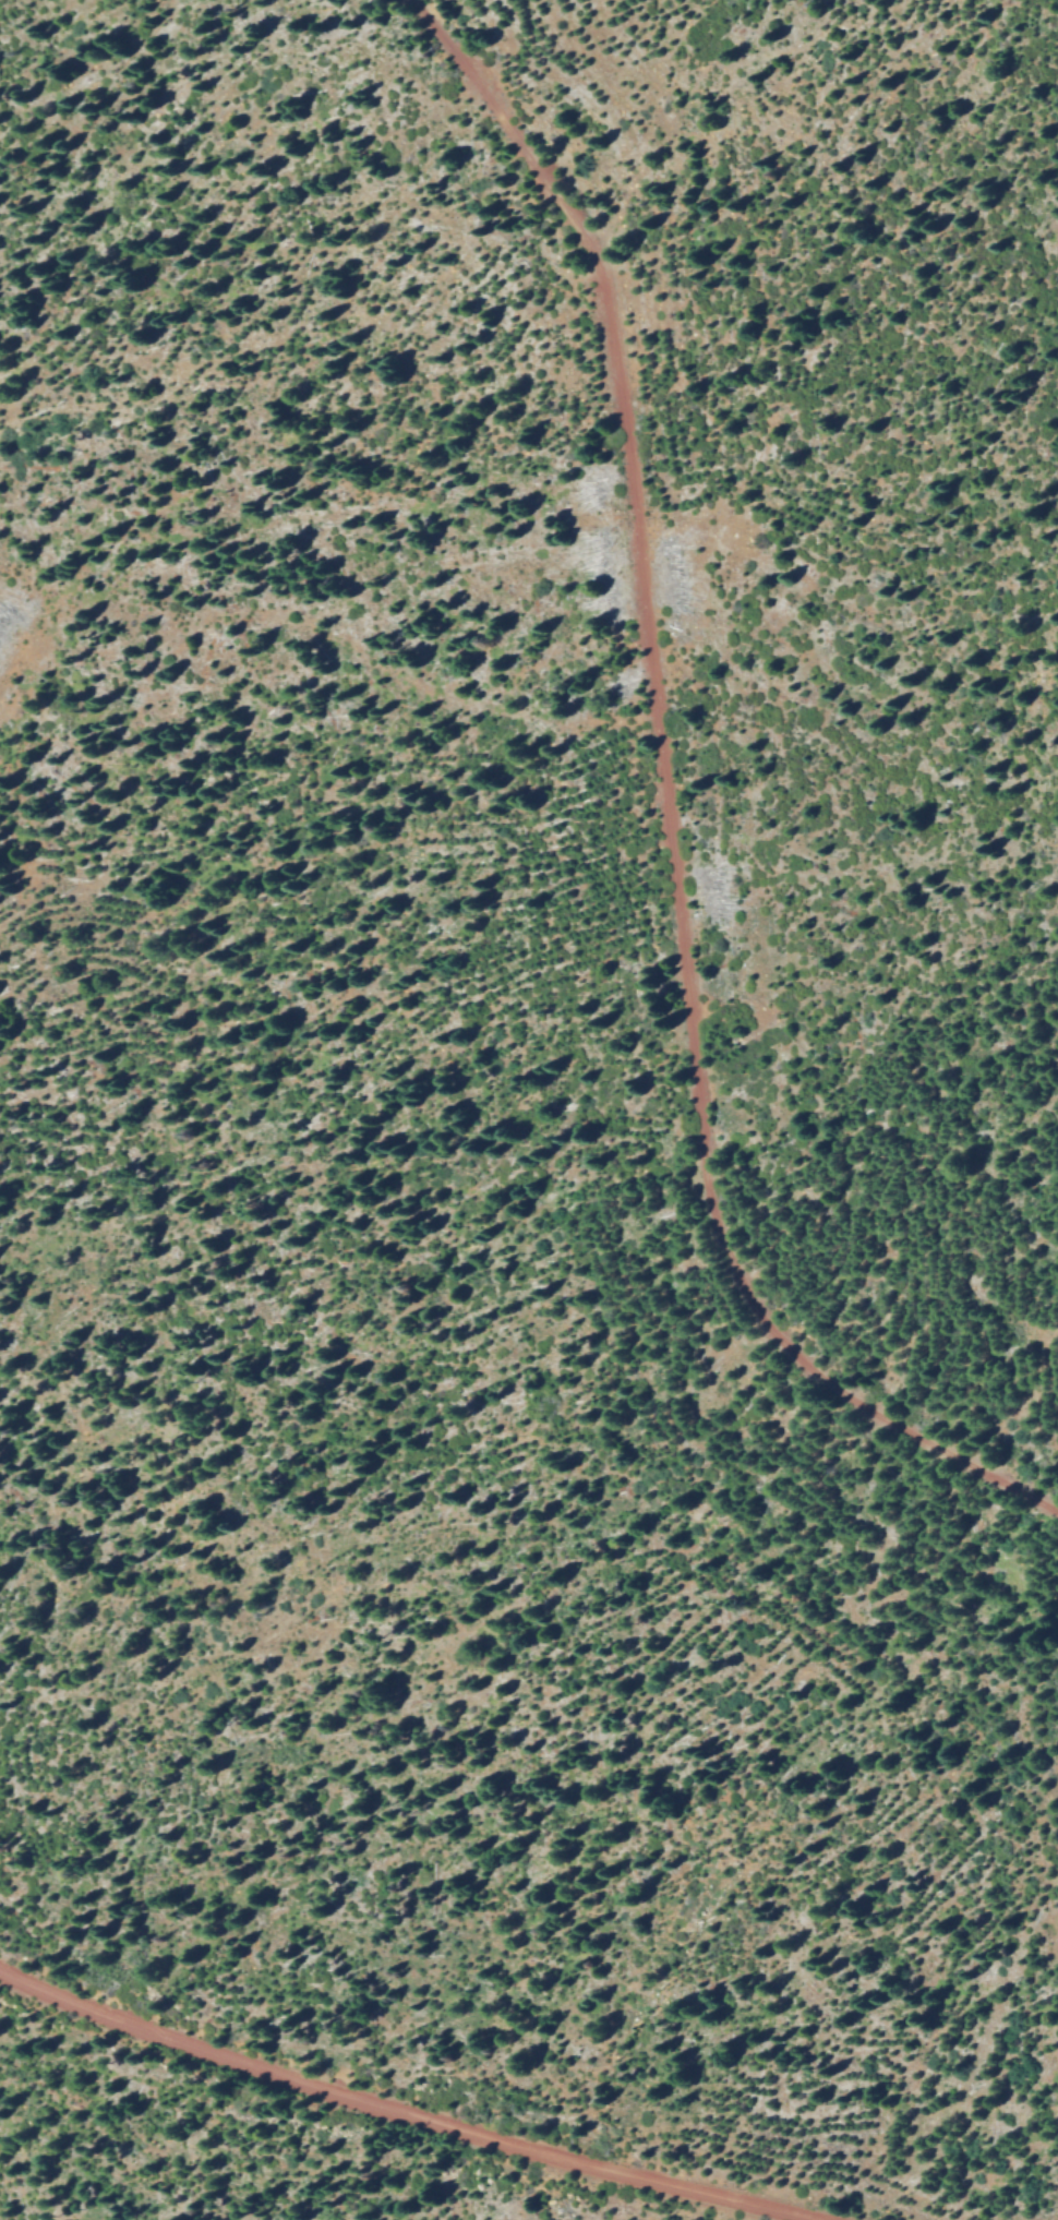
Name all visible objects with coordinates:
road: (666, 815)
road: (402, 2109)

